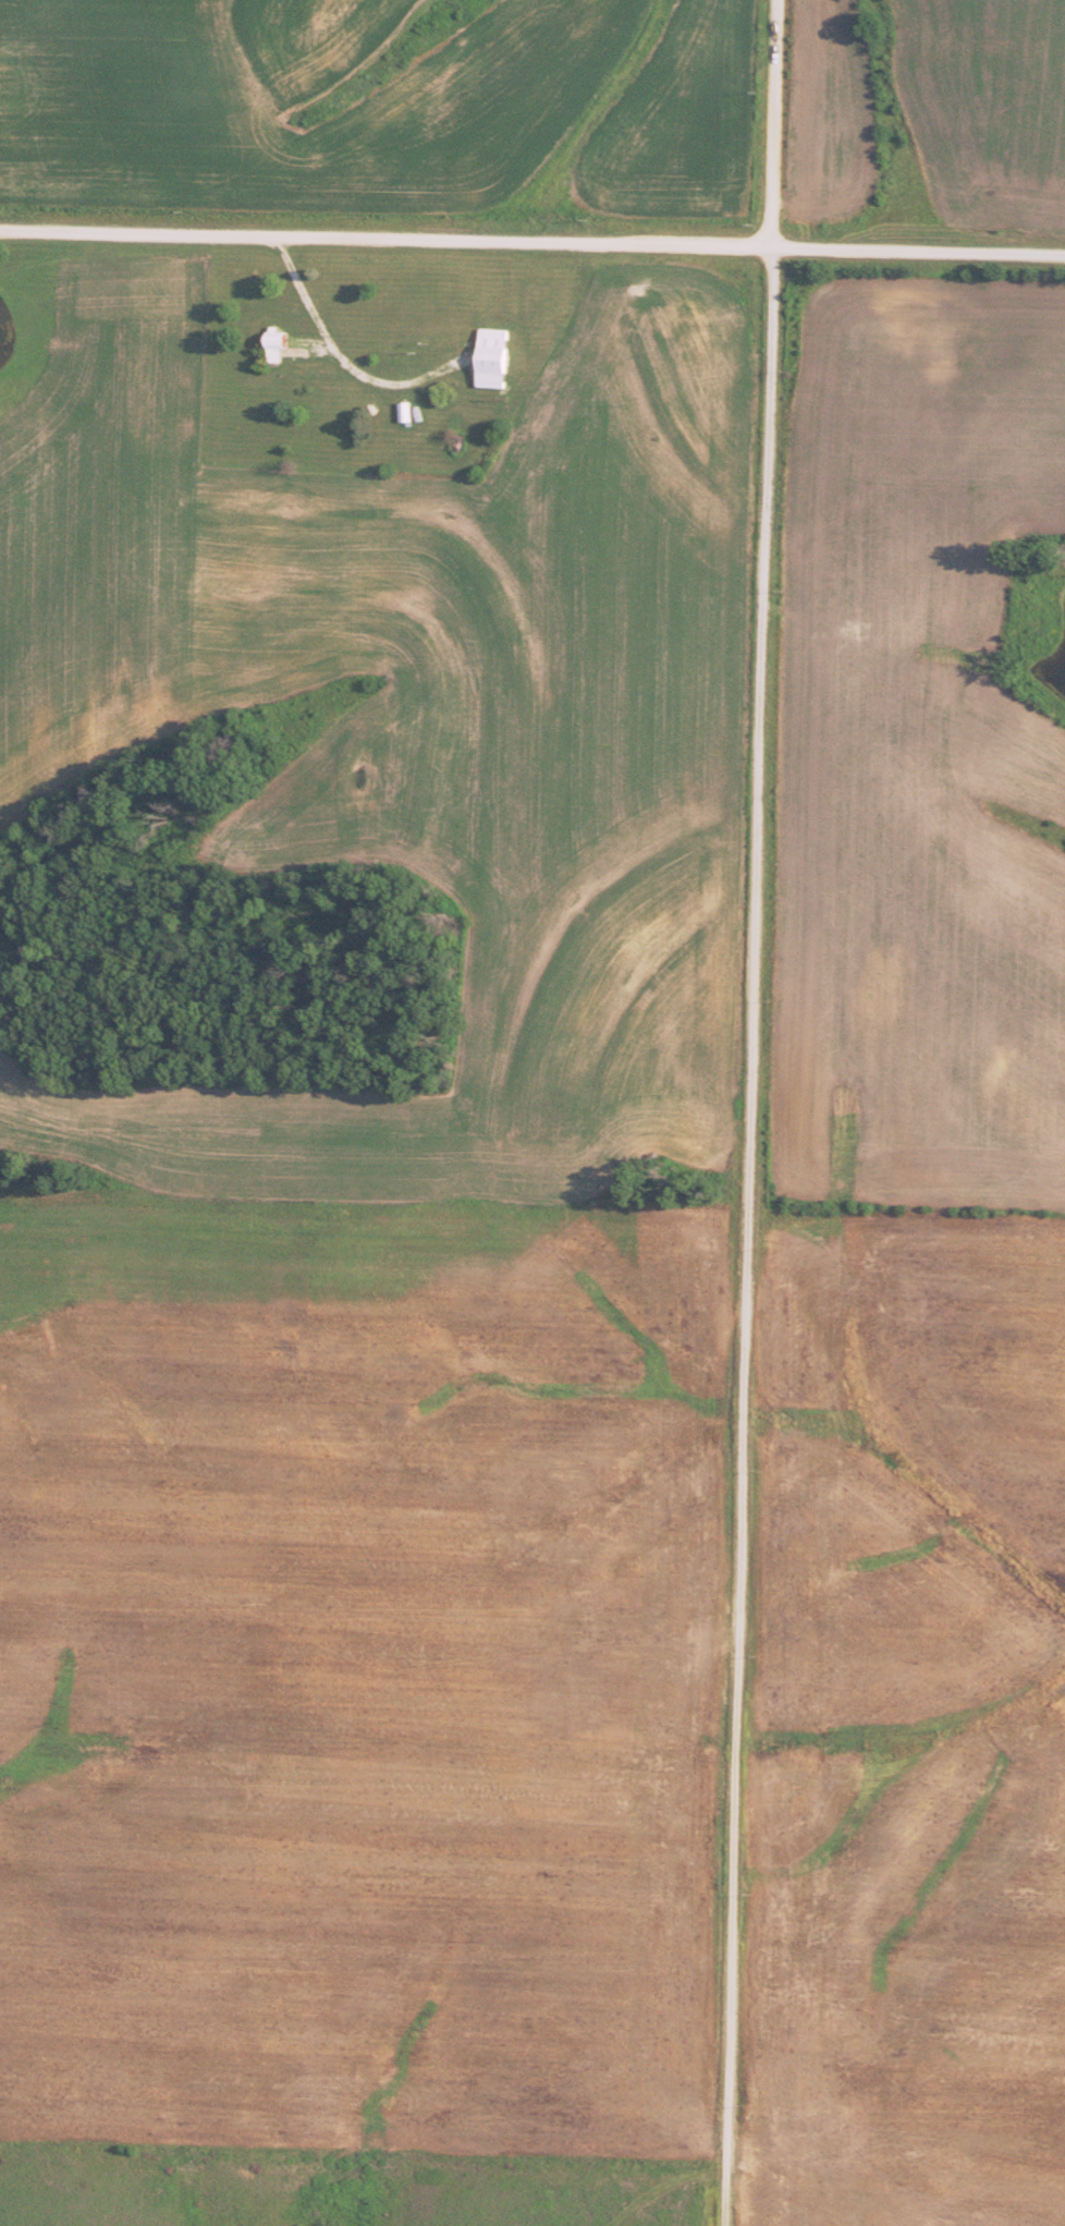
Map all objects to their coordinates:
road: (773, 124)
road: (532, 245)
building: (279, 344)
building: (494, 358)
building: (406, 412)
road: (746, 1237)

